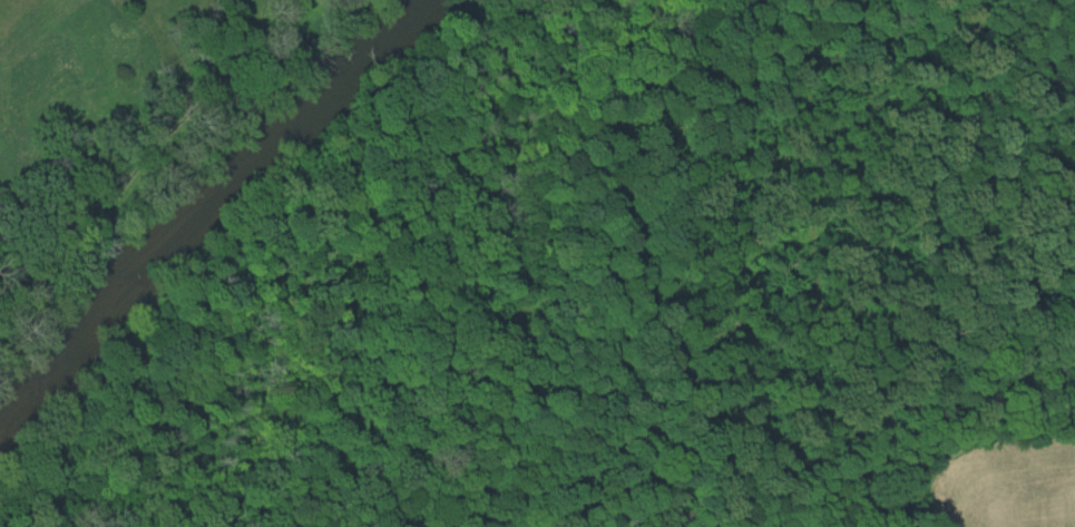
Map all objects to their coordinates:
river: (205, 215)

